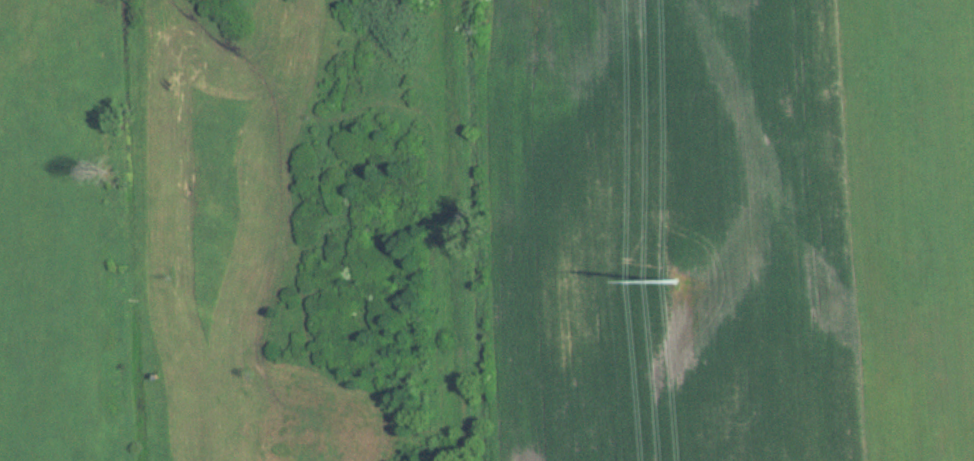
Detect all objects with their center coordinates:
power tower: (676, 282)

